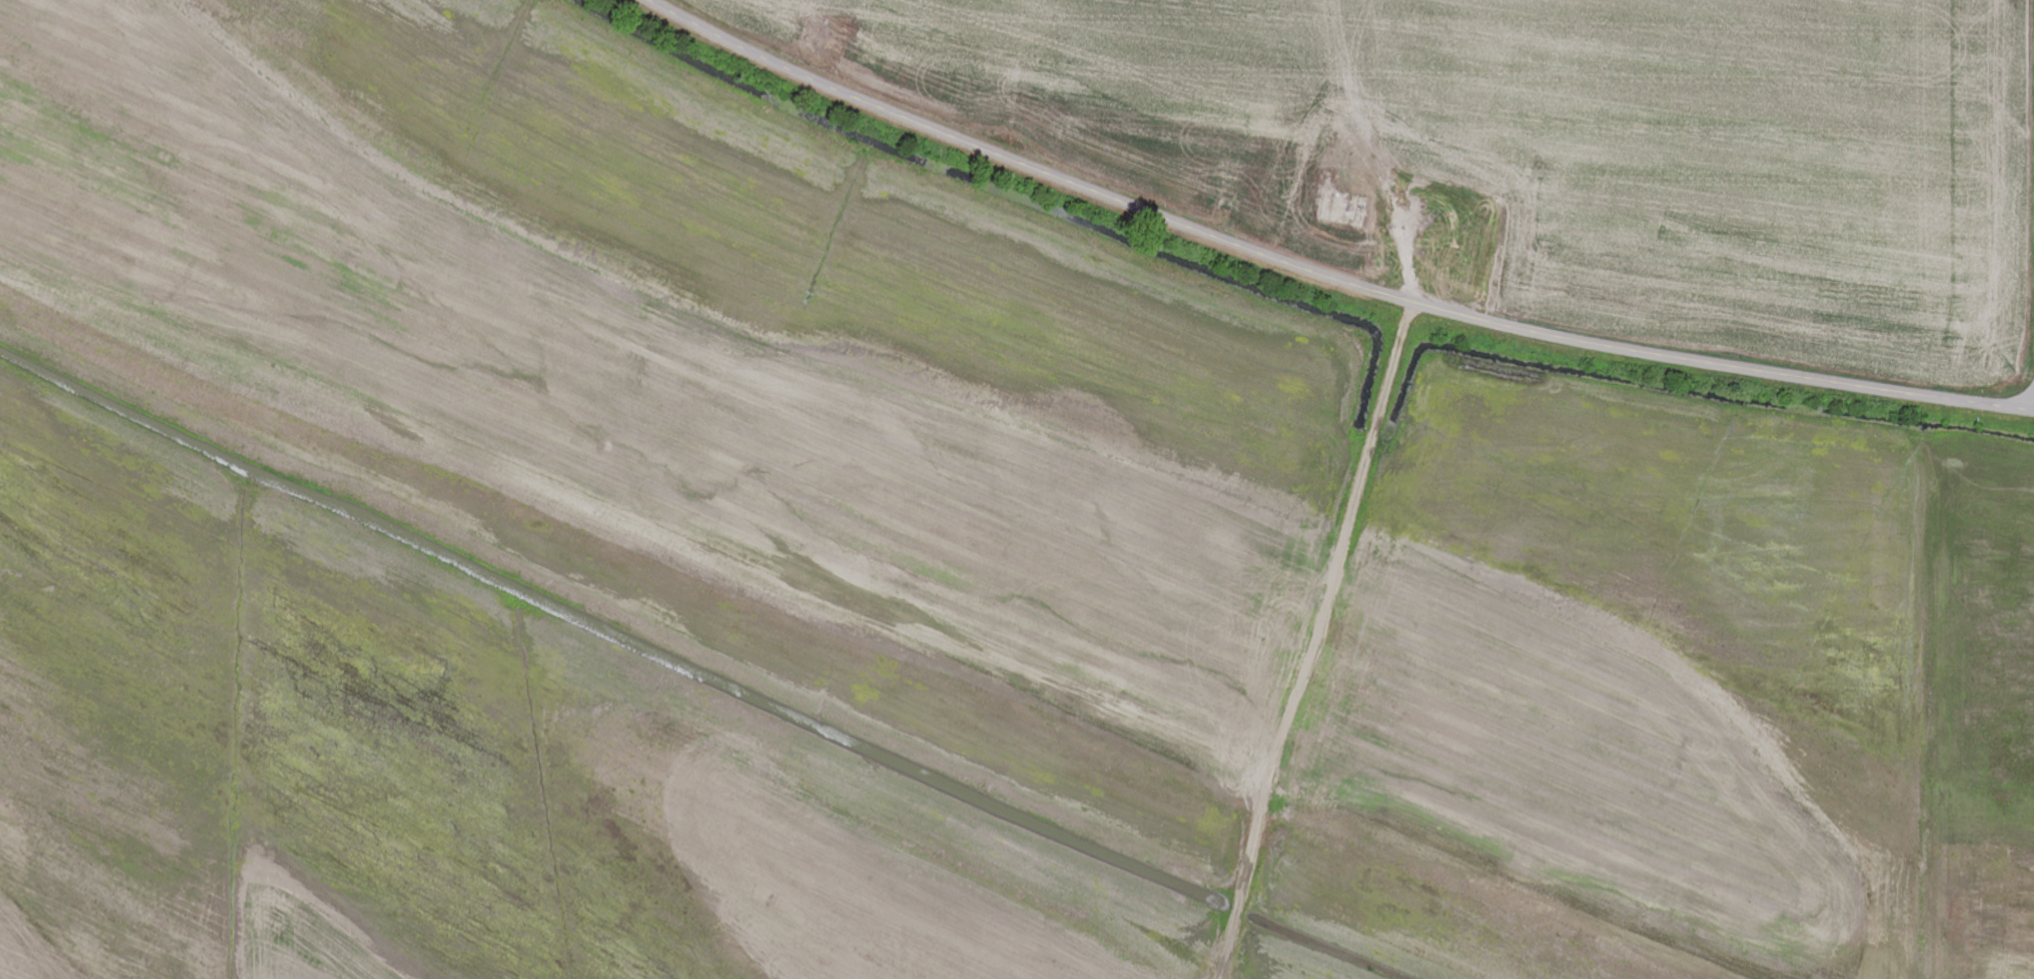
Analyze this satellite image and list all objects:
road: (1320, 273)
road: (1314, 639)

